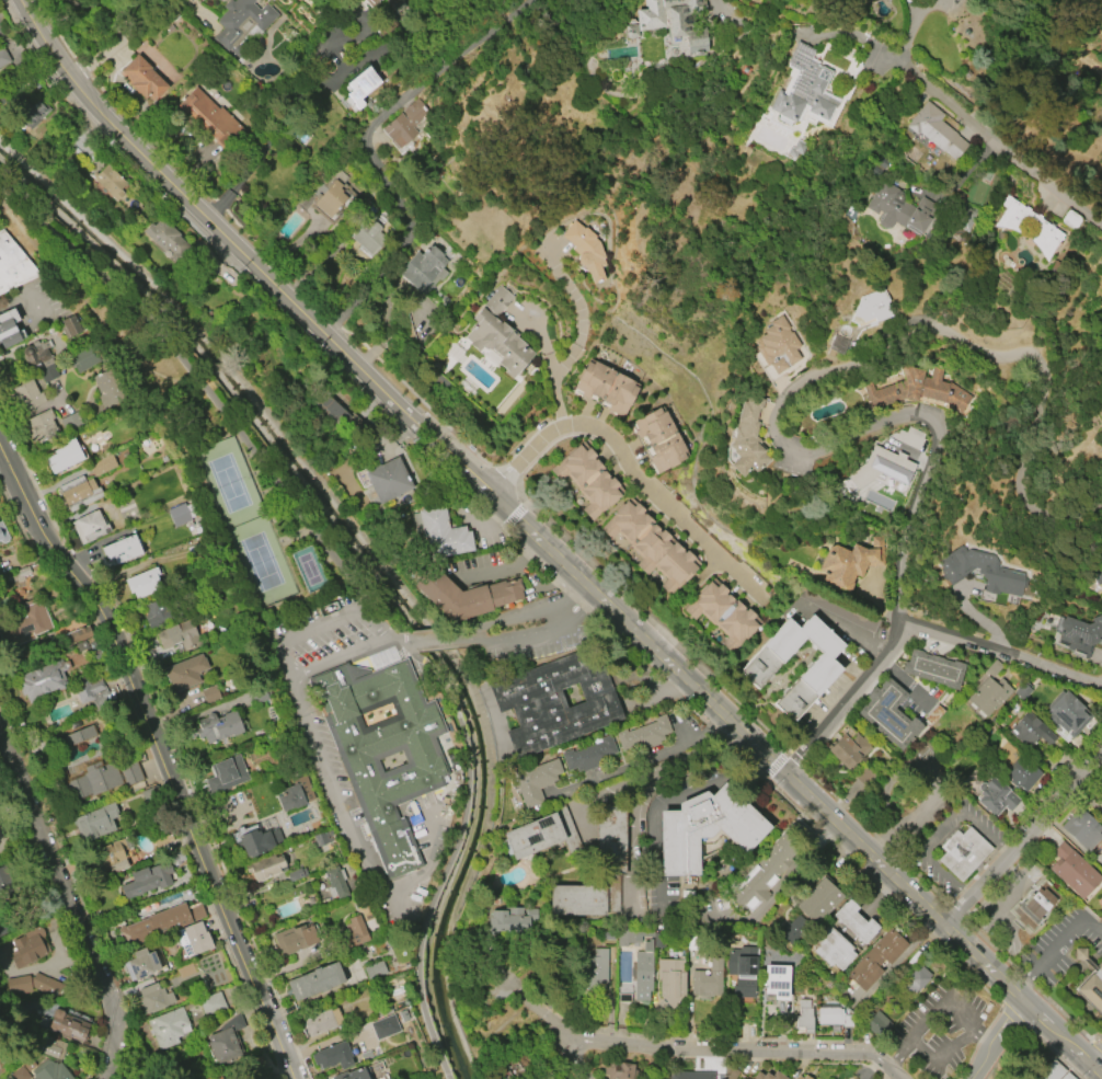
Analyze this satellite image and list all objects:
building: (370, 1)
road: (716, 1)
building: (395, 3)
building: (650, 15)
building: (686, 23)
building: (241, 24)
building: (630, 32)
road: (846, 36)
road: (120, 38)
building: (3, 57)
building: (142, 78)
building: (361, 85)
building: (805, 89)
road: (403, 100)
road: (286, 105)
building: (32, 115)
building: (210, 117)
building: (404, 124)
building: (933, 130)
road: (992, 136)
building: (110, 182)
building: (332, 199)
building: (899, 209)
building: (1065, 220)
building: (1024, 227)
road: (54, 229)
building: (368, 237)
building: (167, 239)
building: (584, 250)
building: (13, 265)
building: (423, 272)
road: (370, 279)
building: (500, 298)
building: (870, 307)
building: (70, 325)
building: (8, 329)
road: (576, 336)
road: (540, 342)
building: (497, 343)
building: (778, 346)
building: (85, 357)
building: (41, 359)
road: (816, 382)
building: (604, 387)
building: (107, 389)
building: (921, 391)
building: (26, 395)
building: (332, 410)
building: (70, 422)
building: (42, 426)
building: (742, 437)
building: (658, 440)
building: (64, 457)
road: (623, 457)
building: (102, 466)
building: (877, 473)
building: (387, 480)
building: (586, 480)
park: (228, 483)
building: (79, 493)
building: (180, 515)
building: (89, 527)
building: (2, 533)
building: (440, 535)
building: (647, 544)
road: (547, 549)
building: (122, 550)
park: (261, 562)
river: (374, 562)
building: (847, 566)
road: (502, 567)
park: (308, 569)
building: (980, 571)
building: (1097, 574)
building: (144, 583)
road: (584, 594)
building: (464, 595)
building: (158, 613)
building: (720, 615)
road: (501, 617)
road: (321, 622)
building: (24, 625)
road: (546, 625)
building: (1080, 634)
building: (77, 635)
building: (179, 636)
road: (400, 640)
road: (461, 640)
road: (400, 644)
building: (83, 645)
road: (999, 655)
road: (332, 656)
building: (755, 668)
building: (994, 668)
building: (933, 669)
road: (129, 670)
building: (183, 673)
building: (41, 679)
road: (904, 682)
building: (92, 691)
building: (1022, 692)
building: (988, 696)
building: (552, 701)
road: (847, 702)
building: (1068, 713)
building: (933, 714)
building: (887, 715)
building: (218, 726)
building: (1031, 730)
building: (79, 735)
building: (642, 736)
building: (382, 750)
building: (846, 750)
building: (589, 755)
road: (638, 759)
building: (1021, 773)
building: (227, 776)
building: (101, 780)
building: (532, 781)
road: (644, 783)
building: (995, 797)
building: (292, 799)
building: (94, 823)
building: (1081, 829)
building: (700, 830)
building: (540, 833)
road: (352, 834)
road: (1023, 840)
building: (260, 841)
building: (963, 852)
building: (112, 857)
building: (769, 864)
building: (268, 866)
building: (595, 871)
building: (1072, 871)
building: (295, 874)
building: (147, 880)
building: (4, 881)
road: (787, 881)
building: (336, 883)
road: (71, 902)
building: (816, 902)
building: (1035, 904)
building: (161, 921)
building: (506, 922)
building: (853, 922)
building: (2, 928)
building: (356, 930)
building: (793, 930)
building: (631, 935)
building: (300, 938)
building: (195, 939)
road: (1055, 945)
building: (27, 948)
building: (829, 948)
building: (874, 960)
building: (142, 964)
building: (595, 967)
building: (374, 969)
building: (742, 971)
building: (180, 972)
building: (642, 972)
building: (707, 979)
building: (670, 980)
building: (774, 980)
building: (914, 980)
building: (317, 982)
building: (1092, 989)
building: (39, 990)
road: (262, 995)
road: (935, 996)
building: (153, 998)
building: (210, 1005)
building: (829, 1014)
building: (804, 1017)
road: (542, 1018)
building: (321, 1022)
building: (875, 1023)
building: (68, 1028)
building: (169, 1028)
parking lot: (939, 1030)
road: (984, 1033)
road: (994, 1037)
building: (225, 1040)
road: (734, 1046)
building: (53, 1048)
road: (942, 1052)
road: (898, 1054)
building: (334, 1056)
road: (573, 1056)
road: (1097, 1058)
building: (619, 1070)
building: (50, 1071)
building: (355, 1074)
building: (20, 1075)
building: (731, 1075)
building: (691, 1076)
building: (766, 1076)
building: (215, 1077)
building: (801, 1077)
building: (796, 1078)
building: (804, 1078)

